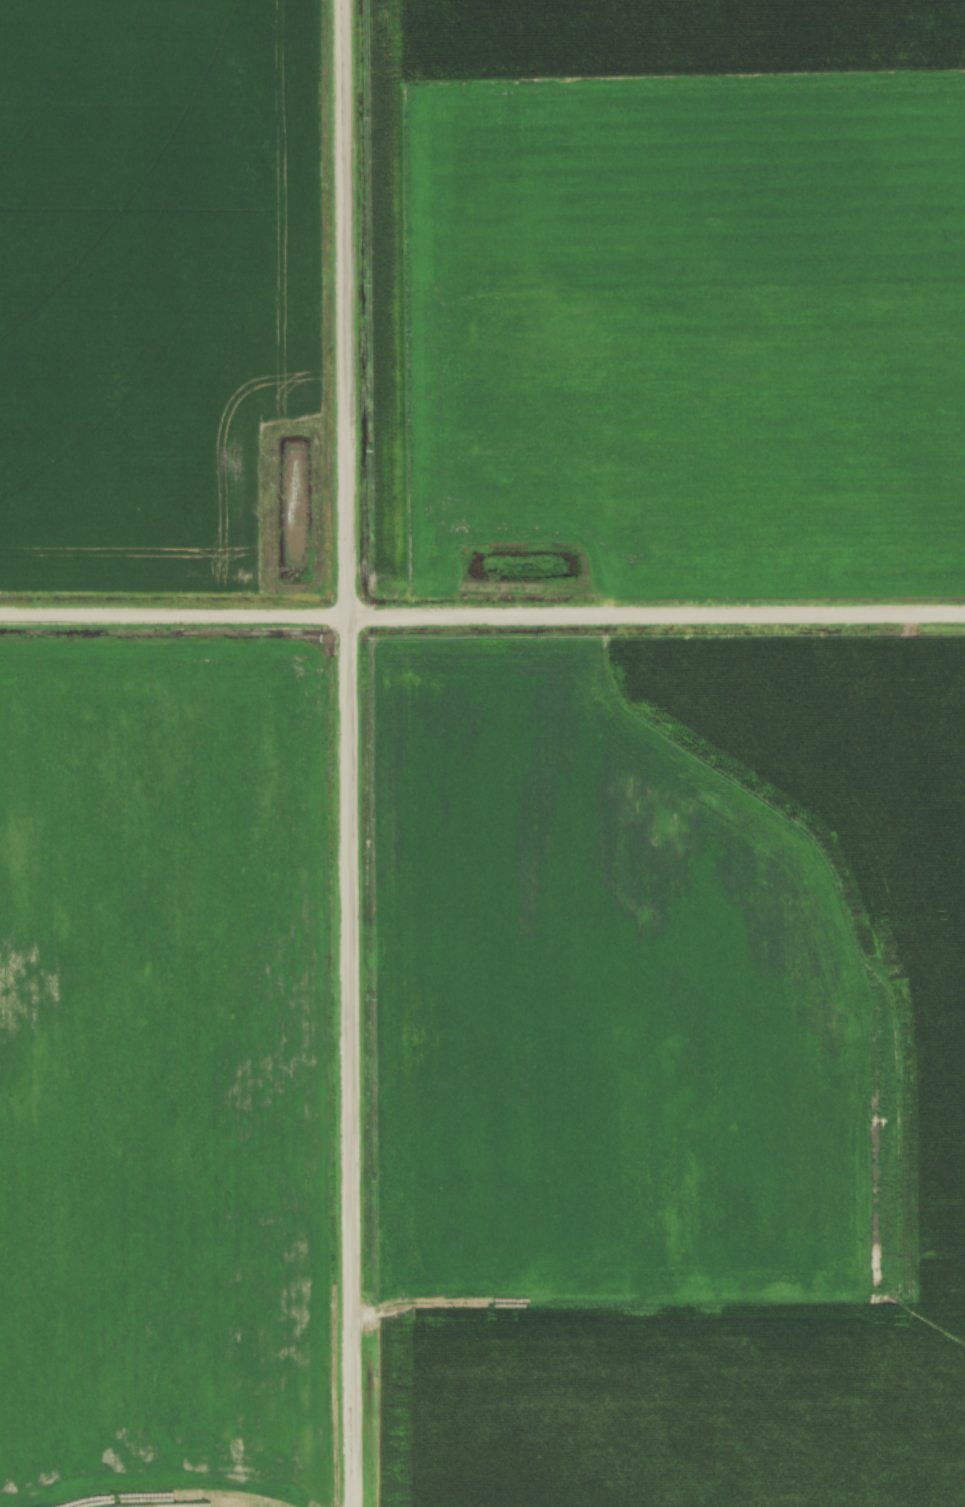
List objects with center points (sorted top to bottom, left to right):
crop: (155, 281)
crop: (675, 286)
road: (482, 615)
road: (348, 753)
crop: (671, 1071)
crop: (162, 1074)

